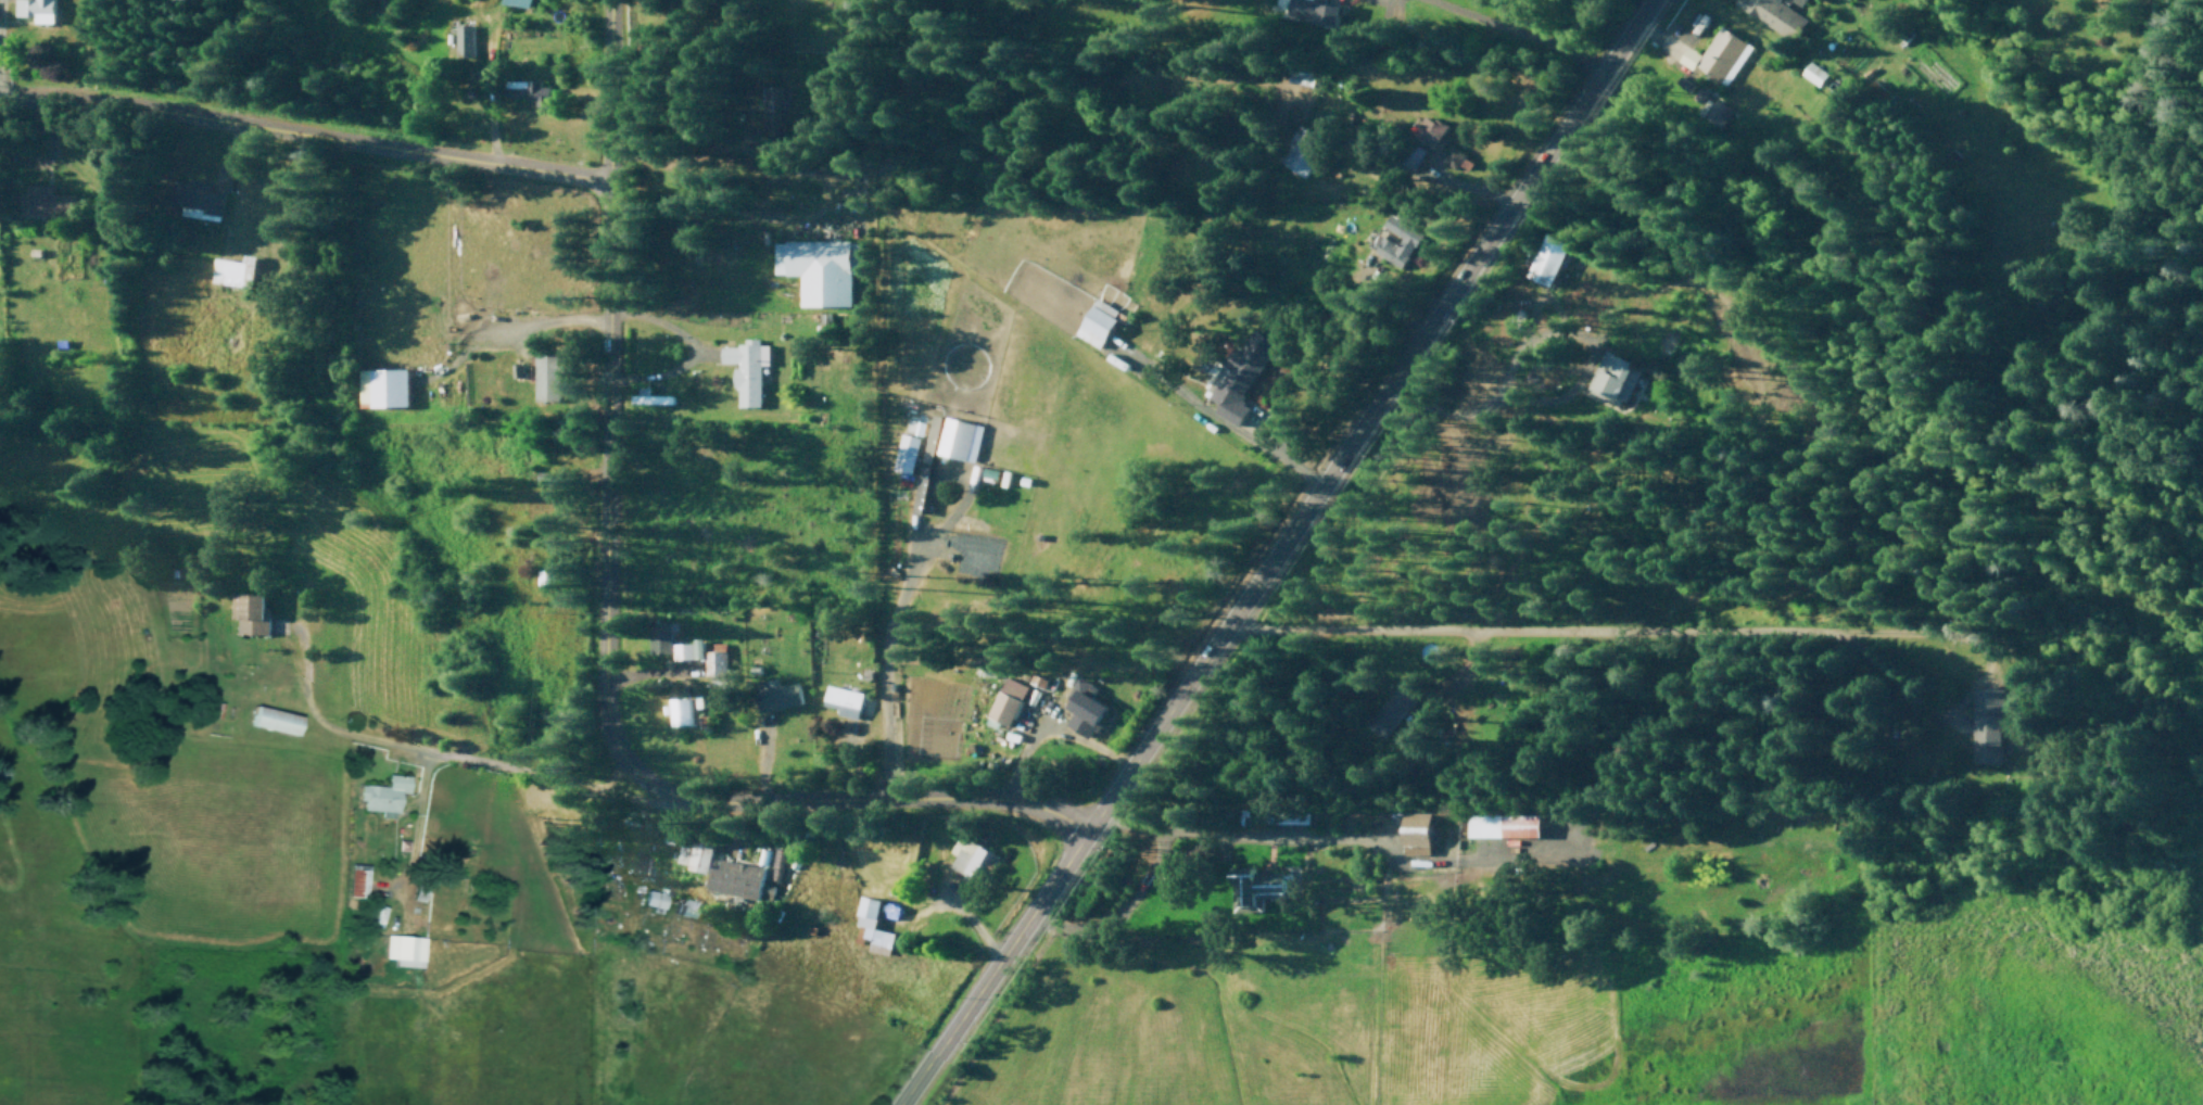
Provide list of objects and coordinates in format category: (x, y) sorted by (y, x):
building: (517, 2)
building: (35, 10)
building: (1772, 15)
building: (1324, 23)
road: (1510, 37)
building: (464, 39)
road: (1659, 39)
building: (1724, 54)
building: (1814, 73)
building: (527, 91)
building: (772, 111)
road: (304, 129)
building: (1428, 134)
building: (1299, 150)
building: (1416, 156)
building: (1457, 158)
road: (1417, 175)
building: (202, 200)
building: (45, 201)
building: (107, 221)
building: (1388, 244)
building: (1549, 258)
building: (818, 269)
building: (233, 271)
water tower: (1122, 305)
building: (1096, 325)
road: (2168, 341)
road: (2024, 350)
building: (745, 369)
building: (546, 377)
building: (1611, 377)
building: (1239, 382)
building: (380, 389)
road: (604, 393)
building: (649, 398)
road: (2100, 420)
building: (953, 437)
road: (1268, 441)
building: (907, 449)
crop: (1090, 454)
building: (527, 498)
road: (1584, 500)
road: (2153, 538)
building: (973, 543)
crop: (102, 544)
road: (1274, 552)
road: (922, 556)
building: (543, 577)
road: (1497, 609)
road: (2055, 615)
road: (1909, 617)
building: (244, 620)
crop: (379, 632)
building: (661, 637)
building: (687, 650)
building: (710, 661)
building: (776, 695)
building: (843, 700)
building: (1001, 707)
building: (1084, 708)
building: (1392, 710)
building: (680, 711)
building: (1426, 720)
building: (273, 722)
building: (1983, 725)
road: (1046, 729)
road: (493, 770)
building: (382, 795)
road: (847, 797)
building: (1509, 824)
building: (1413, 831)
crop: (206, 835)
road: (1337, 836)
building: (965, 853)
building: (693, 855)
building: (777, 864)
building: (735, 879)
building: (355, 884)
building: (1266, 887)
crop: (699, 897)
building: (655, 898)
building: (1126, 901)
crop: (434, 903)
road: (890, 914)
building: (868, 925)
road: (1246, 929)
road: (1816, 930)
building: (402, 949)
road: (1179, 964)
crop: (478, 982)
road: (1373, 1013)
road: (1292, 1032)

